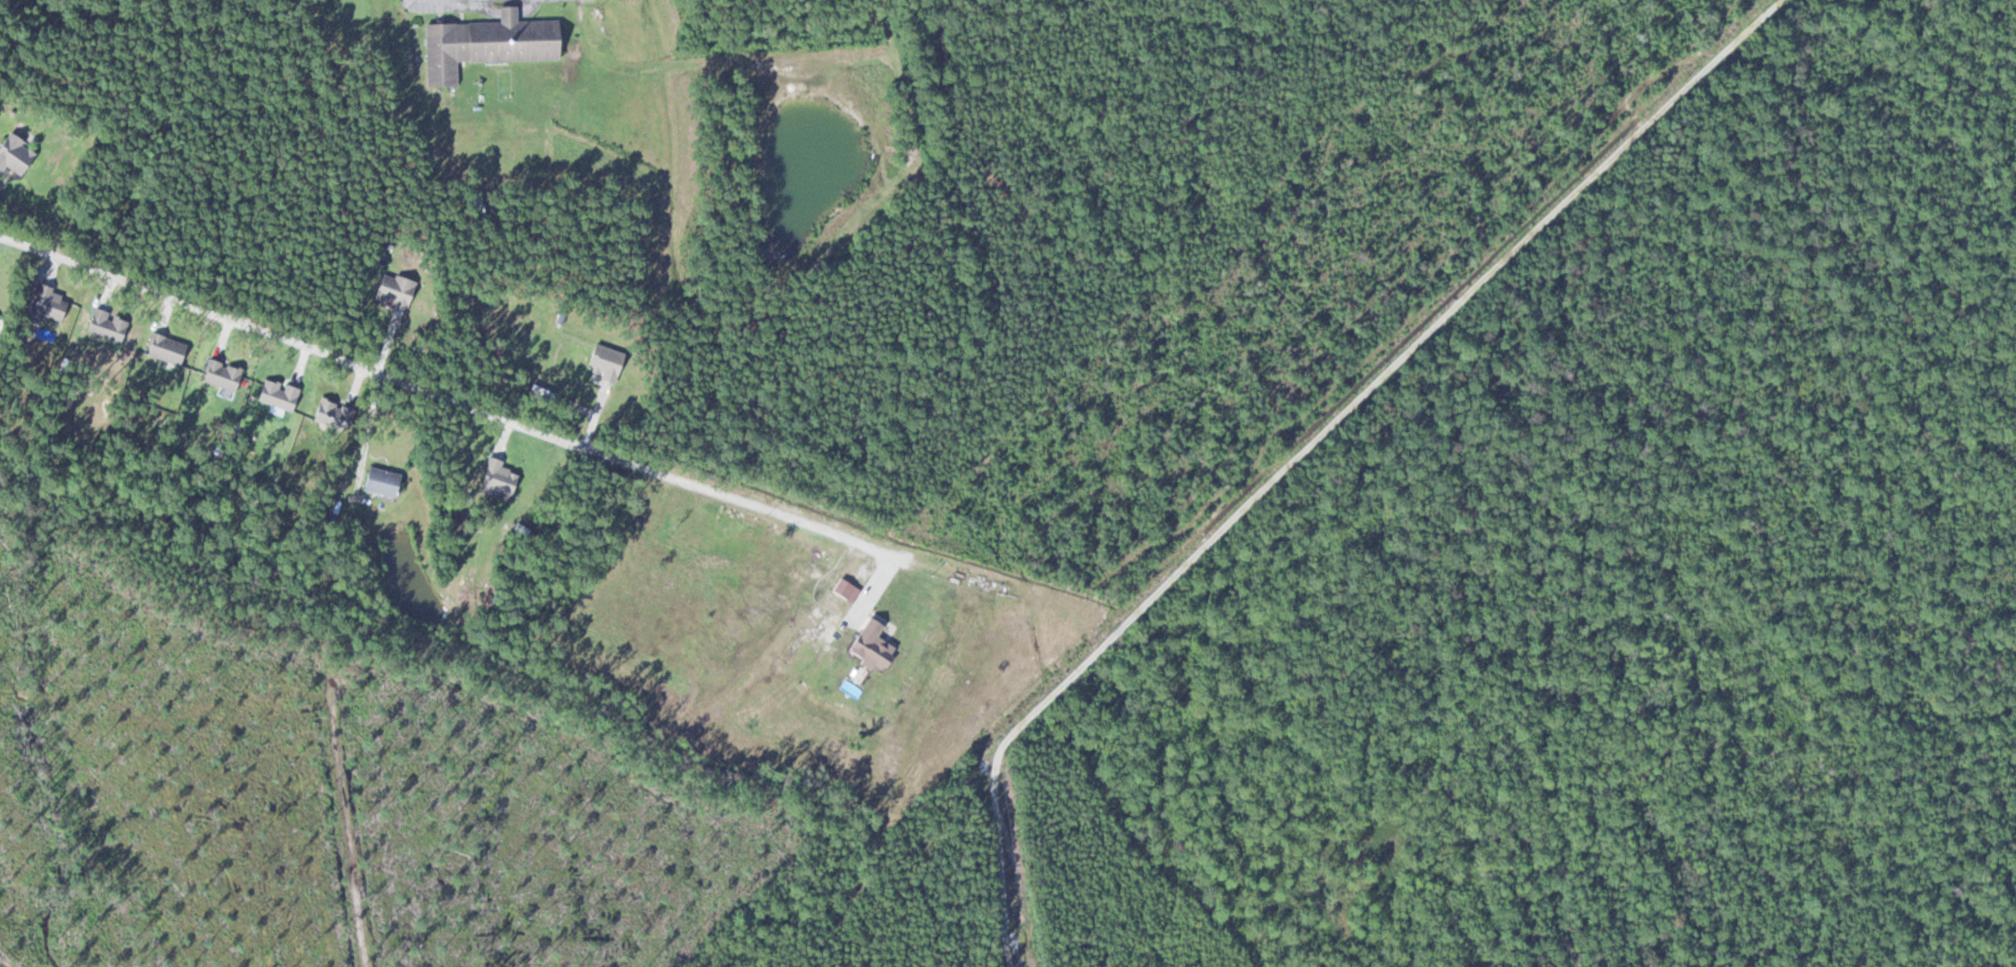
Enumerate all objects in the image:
road: (13, 41)
building: (485, 43)
building: (13, 154)
building: (474, 199)
building: (380, 481)
road: (380, 870)

